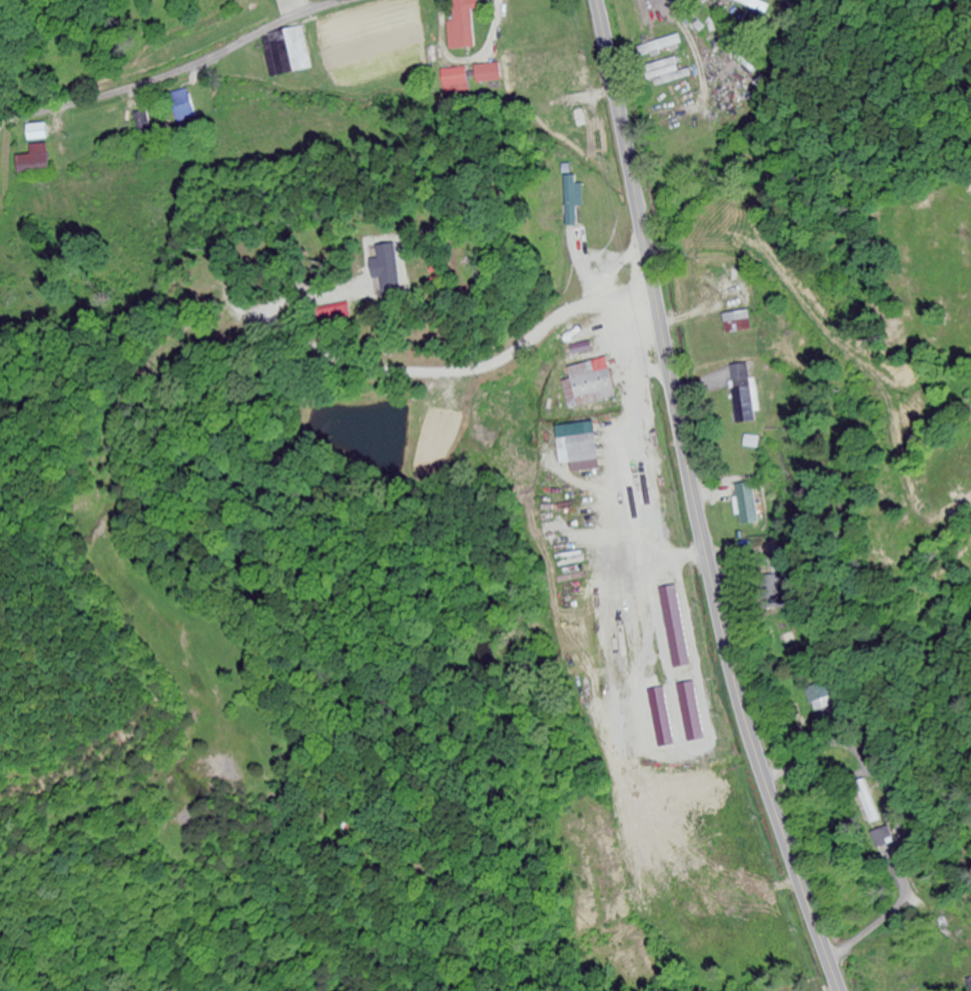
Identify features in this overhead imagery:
building: (463, 25)
building: (660, 47)
building: (287, 53)
building: (550, 69)
road: (180, 71)
building: (489, 74)
building: (666, 74)
building: (456, 82)
building: (182, 107)
building: (38, 132)
building: (35, 163)
building: (385, 287)
building: (332, 313)
building: (735, 323)
road: (410, 339)
building: (589, 385)
building: (580, 454)
road: (693, 501)
building: (744, 506)
building: (571, 560)
building: (768, 591)
building: (819, 700)
building: (865, 803)
building: (881, 839)

